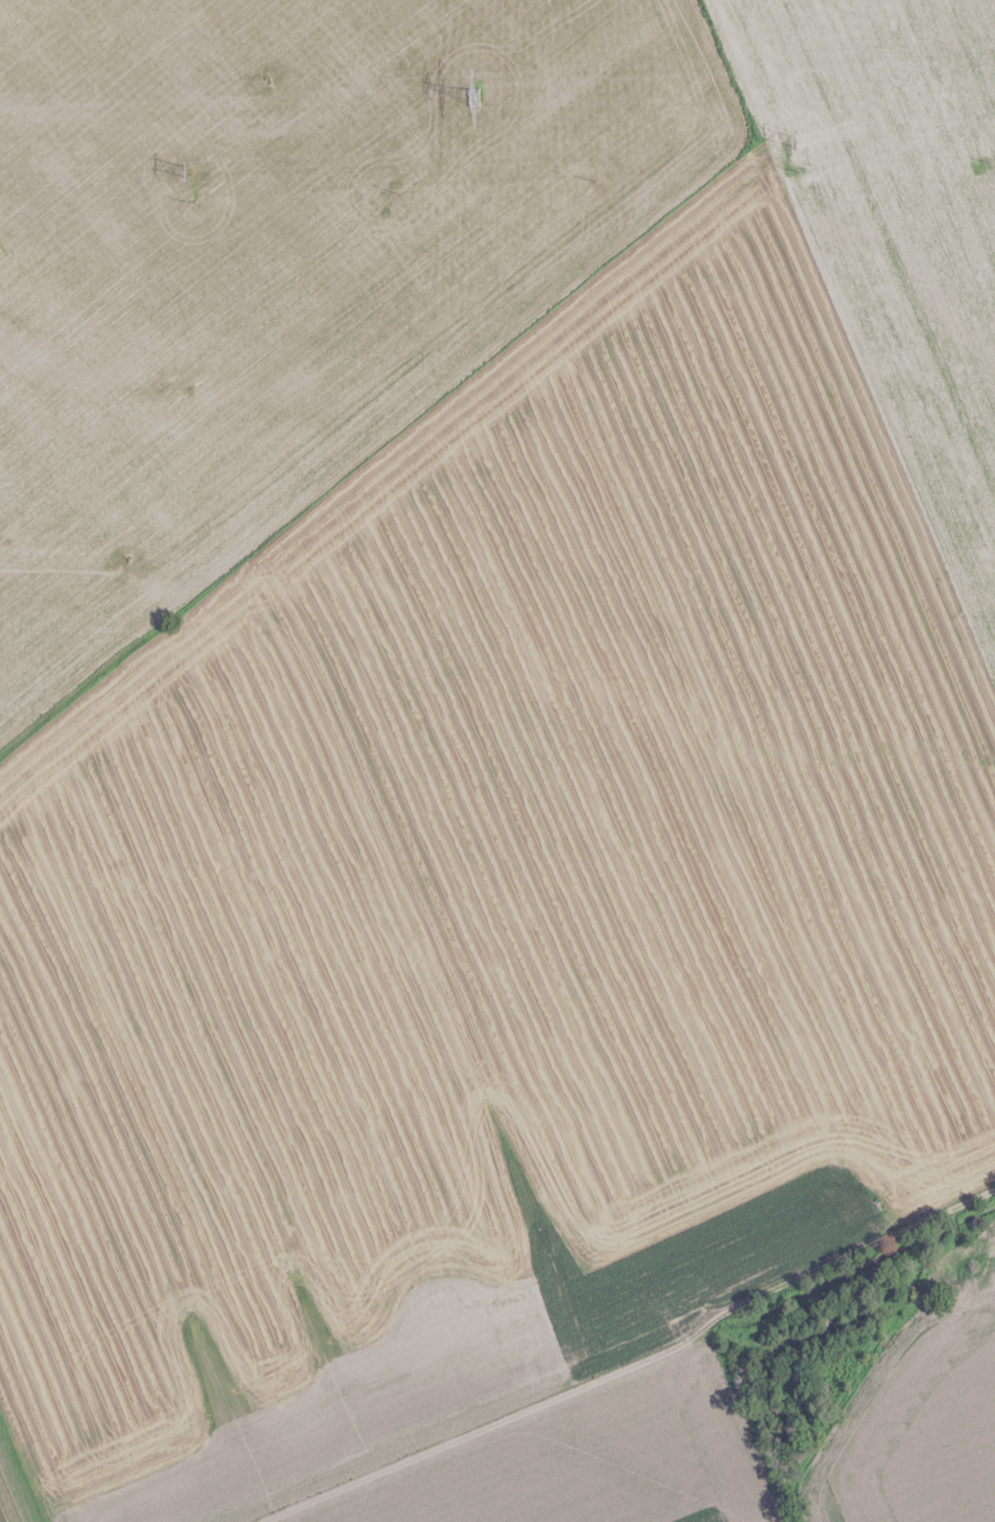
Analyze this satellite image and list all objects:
power tower: (473, 97)
power tower: (795, 139)
power tower: (192, 170)

